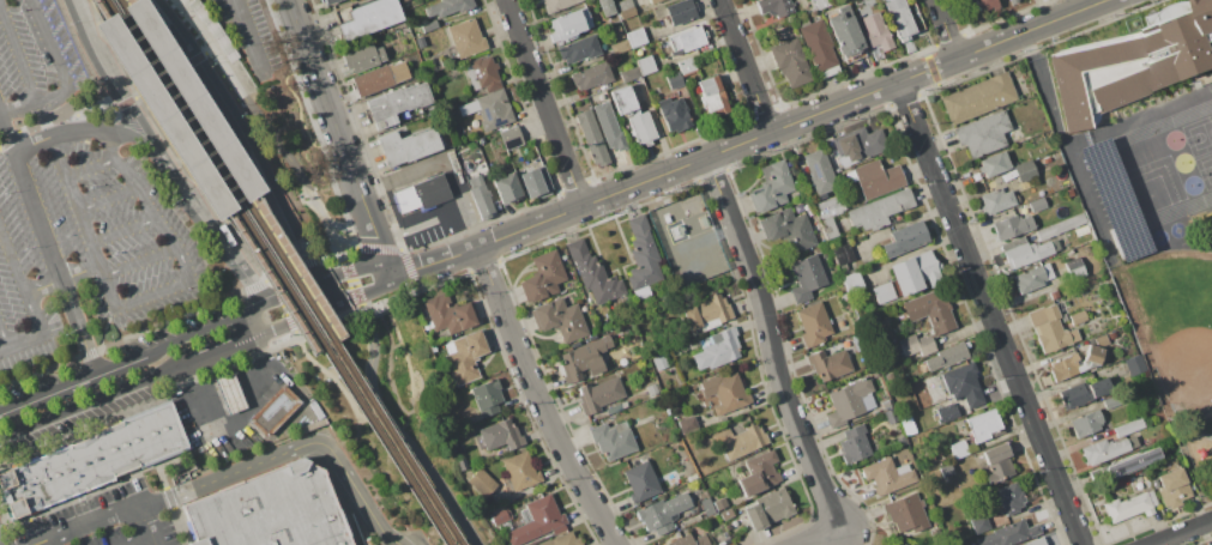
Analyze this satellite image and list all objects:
building: (402, 0)
building: (1011, 0)
road: (182, 1)
building: (330, 1)
building: (655, 1)
building: (821, 2)
building: (556, 4)
building: (623, 5)
building: (987, 5)
building: (448, 7)
building: (605, 7)
building: (774, 7)
building: (870, 8)
building: (627, 12)
building: (677, 12)
building: (369, 18)
building: (899, 18)
road: (83, 24)
building: (571, 24)
building: (429, 25)
road: (946, 29)
building: (876, 31)
building: (617, 32)
building: (845, 34)
parking lot: (255, 35)
road: (252, 37)
building: (466, 37)
building: (637, 37)
building: (688, 38)
building: (421, 42)
building: (818, 46)
building: (621, 47)
building: (579, 49)
road: (83, 56)
building: (363, 57)
road: (197, 60)
building: (790, 62)
building: (1083, 62)
building: (687, 65)
road: (743, 65)
building: (646, 66)
building: (484, 74)
building: (631, 74)
road: (206, 75)
building: (592, 75)
building: (373, 80)
building: (675, 80)
road: (162, 83)
road: (165, 86)
road: (243, 91)
road: (121, 95)
road: (50, 96)
building: (712, 96)
building: (978, 98)
building: (625, 99)
road: (543, 102)
road: (126, 103)
building: (397, 103)
road: (22, 107)
building: (180, 108)
building: (450, 110)
building: (490, 110)
building: (674, 114)
road: (52, 121)
road: (790, 122)
road: (78, 123)
building: (609, 126)
road: (219, 128)
building: (643, 128)
building: (983, 134)
road: (65, 135)
road: (132, 135)
park: (1198, 135)
road: (340, 138)
building: (512, 138)
building: (592, 138)
park: (1172, 139)
building: (482, 141)
road: (173, 144)
road: (1066, 144)
building: (409, 145)
building: (858, 145)
building: (453, 161)
park: (1181, 162)
building: (994, 164)
track: (1164, 166)
railway: (231, 169)
road: (92, 170)
road: (264, 170)
park: (1205, 170)
building: (819, 171)
building: (1021, 171)
railway: (207, 175)
building: (875, 178)
road: (223, 181)
road: (225, 182)
building: (536, 182)
road: (181, 184)
park: (1153, 184)
park: (1190, 184)
building: (772, 187)
building: (507, 188)
road: (139, 190)
building: (422, 194)
building: (481, 198)
building: (1114, 199)
building: (997, 200)
road: (111, 201)
building: (1037, 205)
building: (830, 207)
road: (82, 208)
parking lot: (78, 210)
building: (879, 210)
road: (435, 212)
road: (322, 217)
building: (1013, 226)
building: (1061, 226)
building: (828, 228)
building: (789, 229)
park: (1176, 230)
road: (127, 232)
road: (295, 235)
park: (1158, 236)
building: (905, 238)
road: (50, 241)
power substation: (687, 242)
building: (1013, 243)
building: (1055, 246)
road: (376, 248)
road: (333, 250)
building: (1069, 252)
road: (14, 253)
building: (1026, 253)
building: (844, 254)
building: (643, 258)
road: (434, 260)
road: (307, 261)
road: (240, 266)
building: (844, 267)
building: (1075, 268)
road: (411, 271)
railway: (276, 272)
road: (283, 272)
railway: (288, 272)
road: (355, 272)
building: (543, 277)
building: (909, 277)
building: (1033, 277)
building: (597, 278)
building: (806, 278)
road: (66, 279)
road: (351, 279)
building: (852, 281)
road: (253, 286)
road: (288, 293)
road: (330, 293)
road: (372, 293)
building: (1054, 295)
building: (845, 297)
road: (120, 305)
road: (285, 307)
building: (930, 310)
road: (989, 313)
road: (358, 314)
building: (448, 314)
building: (706, 314)
building: (1063, 316)
building: (1078, 317)
building: (560, 319)
road: (255, 321)
road: (300, 321)
park: (1171, 321)
building: (814, 323)
building: (1050, 329)
road: (204, 331)
road: (43, 332)
road: (108, 333)
road: (7, 339)
building: (1101, 340)
road: (770, 341)
building: (850, 341)
park: (1175, 344)
building: (916, 345)
road: (223, 350)
building: (717, 350)
building: (1093, 355)
road: (404, 356)
building: (465, 356)
building: (947, 356)
building: (578, 362)
building: (616, 362)
building: (659, 363)
building: (830, 364)
building: (1134, 364)
building: (1068, 368)
building: (915, 373)
building: (875, 375)
road: (388, 377)
building: (890, 377)
road: (73, 383)
road: (338, 384)
building: (963, 384)
building: (653, 389)
building: (230, 392)
building: (599, 394)
building: (923, 394)
building: (1083, 394)
building: (730, 396)
building: (487, 398)
road: (538, 399)
road: (95, 400)
building: (850, 401)
building: (885, 404)
building: (614, 410)
building: (273, 411)
building: (947, 412)
road: (234, 413)
building: (891, 416)
park: (392, 420)
building: (687, 423)
building: (1086, 423)
building: (908, 424)
road: (402, 426)
building: (984, 426)
building: (1129, 428)
road: (400, 434)
building: (501, 435)
building: (613, 440)
building: (743, 441)
building: (900, 441)
building: (855, 444)
building: (959, 449)
building: (1107, 449)
road: (291, 453)
building: (92, 461)
building: (462, 464)
building: (999, 464)
building: (1126, 465)
building: (518, 471)
building: (946, 471)
building: (759, 473)
road: (163, 476)
building: (887, 476)
building: (482, 483)
building: (641, 483)
building: (1171, 488)
road: (91, 491)
road: (171, 497)
building: (1009, 498)
building: (720, 504)
building: (1130, 505)
building: (707, 507)
building: (767, 509)
building: (269, 510)
road: (5, 513)
building: (663, 513)
building: (906, 513)
building: (726, 514)
building: (500, 516)
building: (978, 519)
parking lot: (109, 521)
building: (537, 521)
road: (88, 523)
road: (150, 523)
road: (182, 526)
building: (505, 527)
road: (32, 531)
road: (1180, 532)
building: (1009, 534)
road: (818, 535)
road: (141, 540)
building: (563, 540)
building: (689, 540)
building: (1036, 541)
building: (896, 543)
building: (900, 543)
road: (37, 544)

